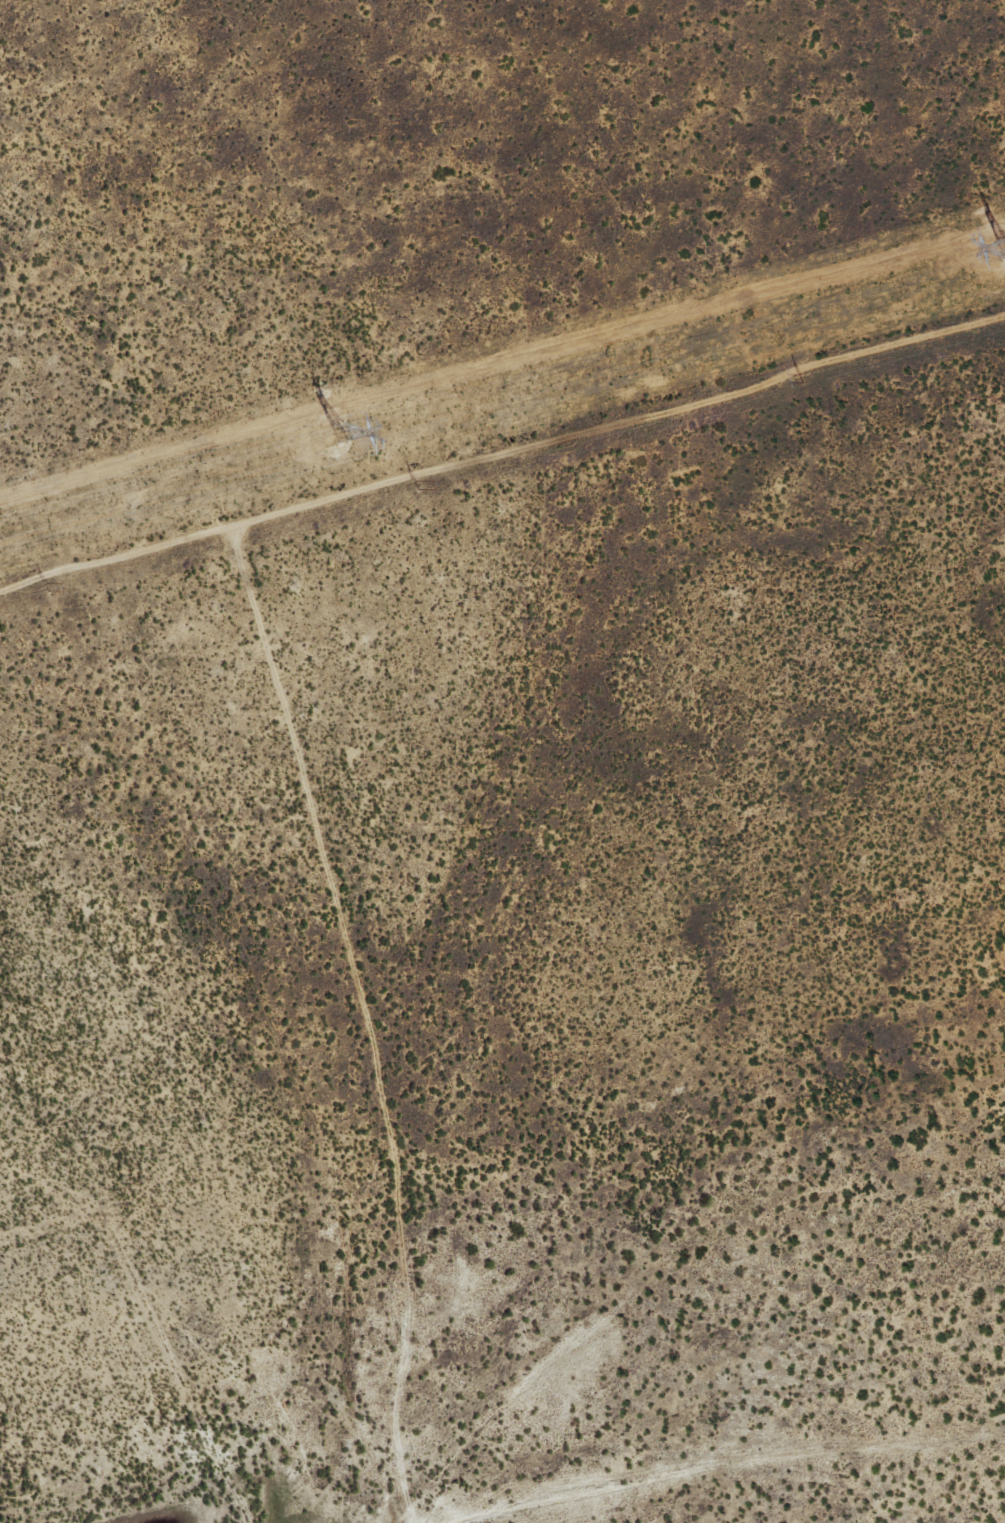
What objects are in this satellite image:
power tower: (1004, 248)
power tower: (799, 380)
power tower: (335, 433)
power tower: (415, 486)
power tower: (46, 587)

